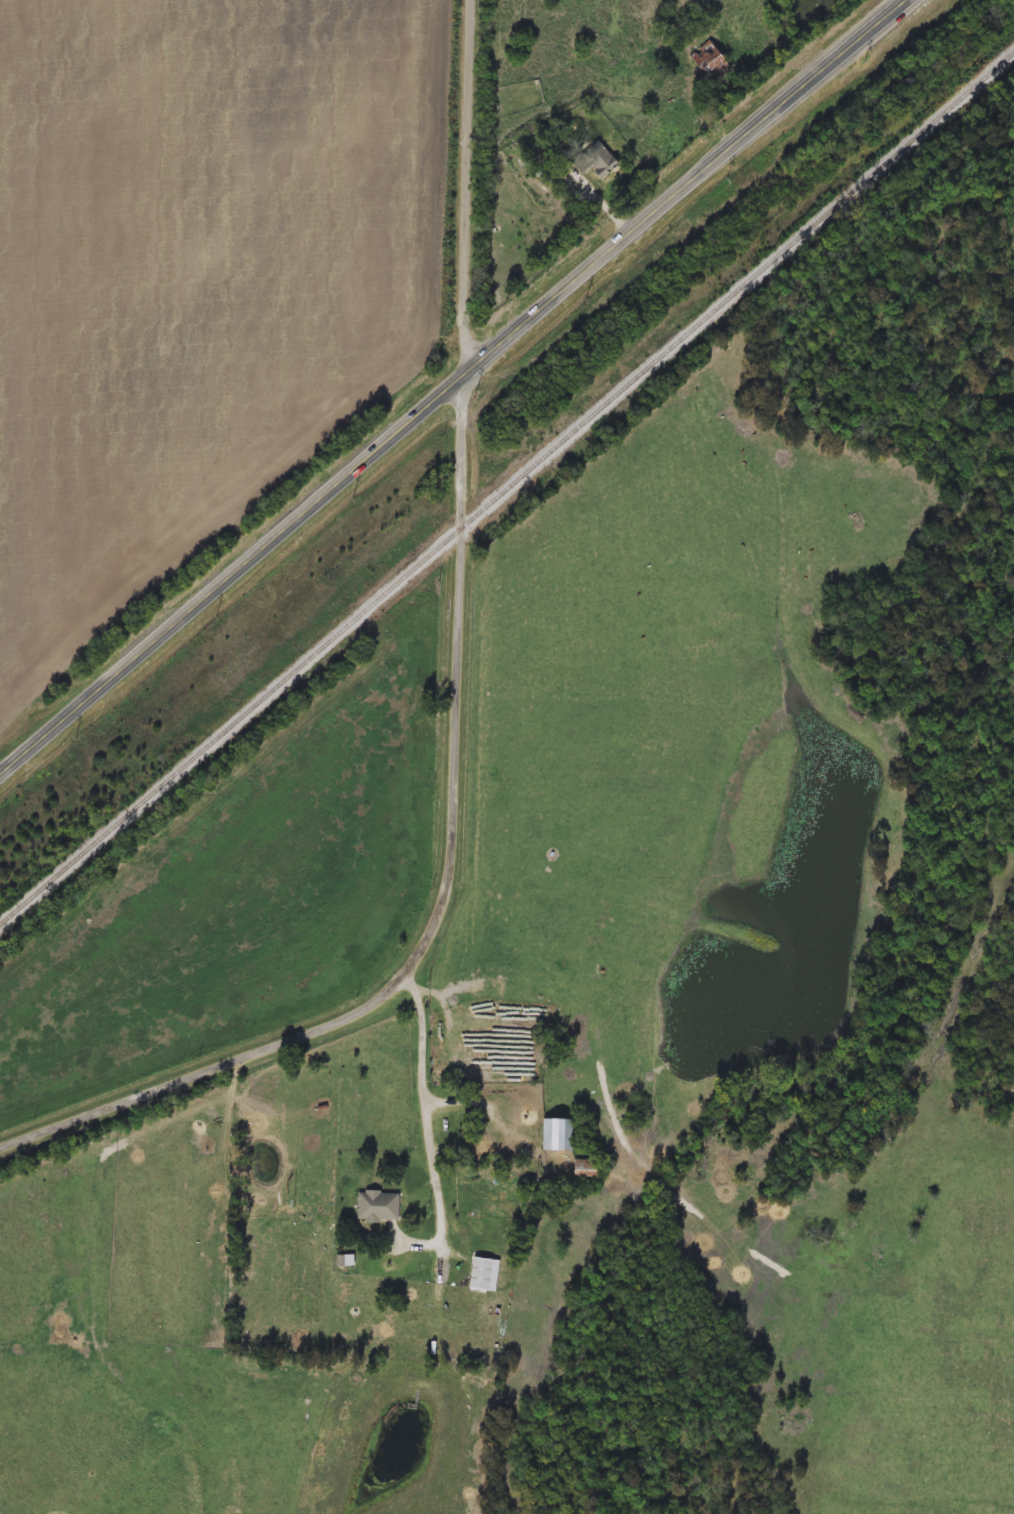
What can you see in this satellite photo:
building: (605, 167)
power tower: (723, 185)
road: (465, 187)
road: (452, 386)
railway: (506, 488)
power tower: (352, 504)
power tower: (217, 618)
road: (439, 897)
road: (425, 1106)
building: (556, 1135)
building: (377, 1207)
building: (482, 1275)

